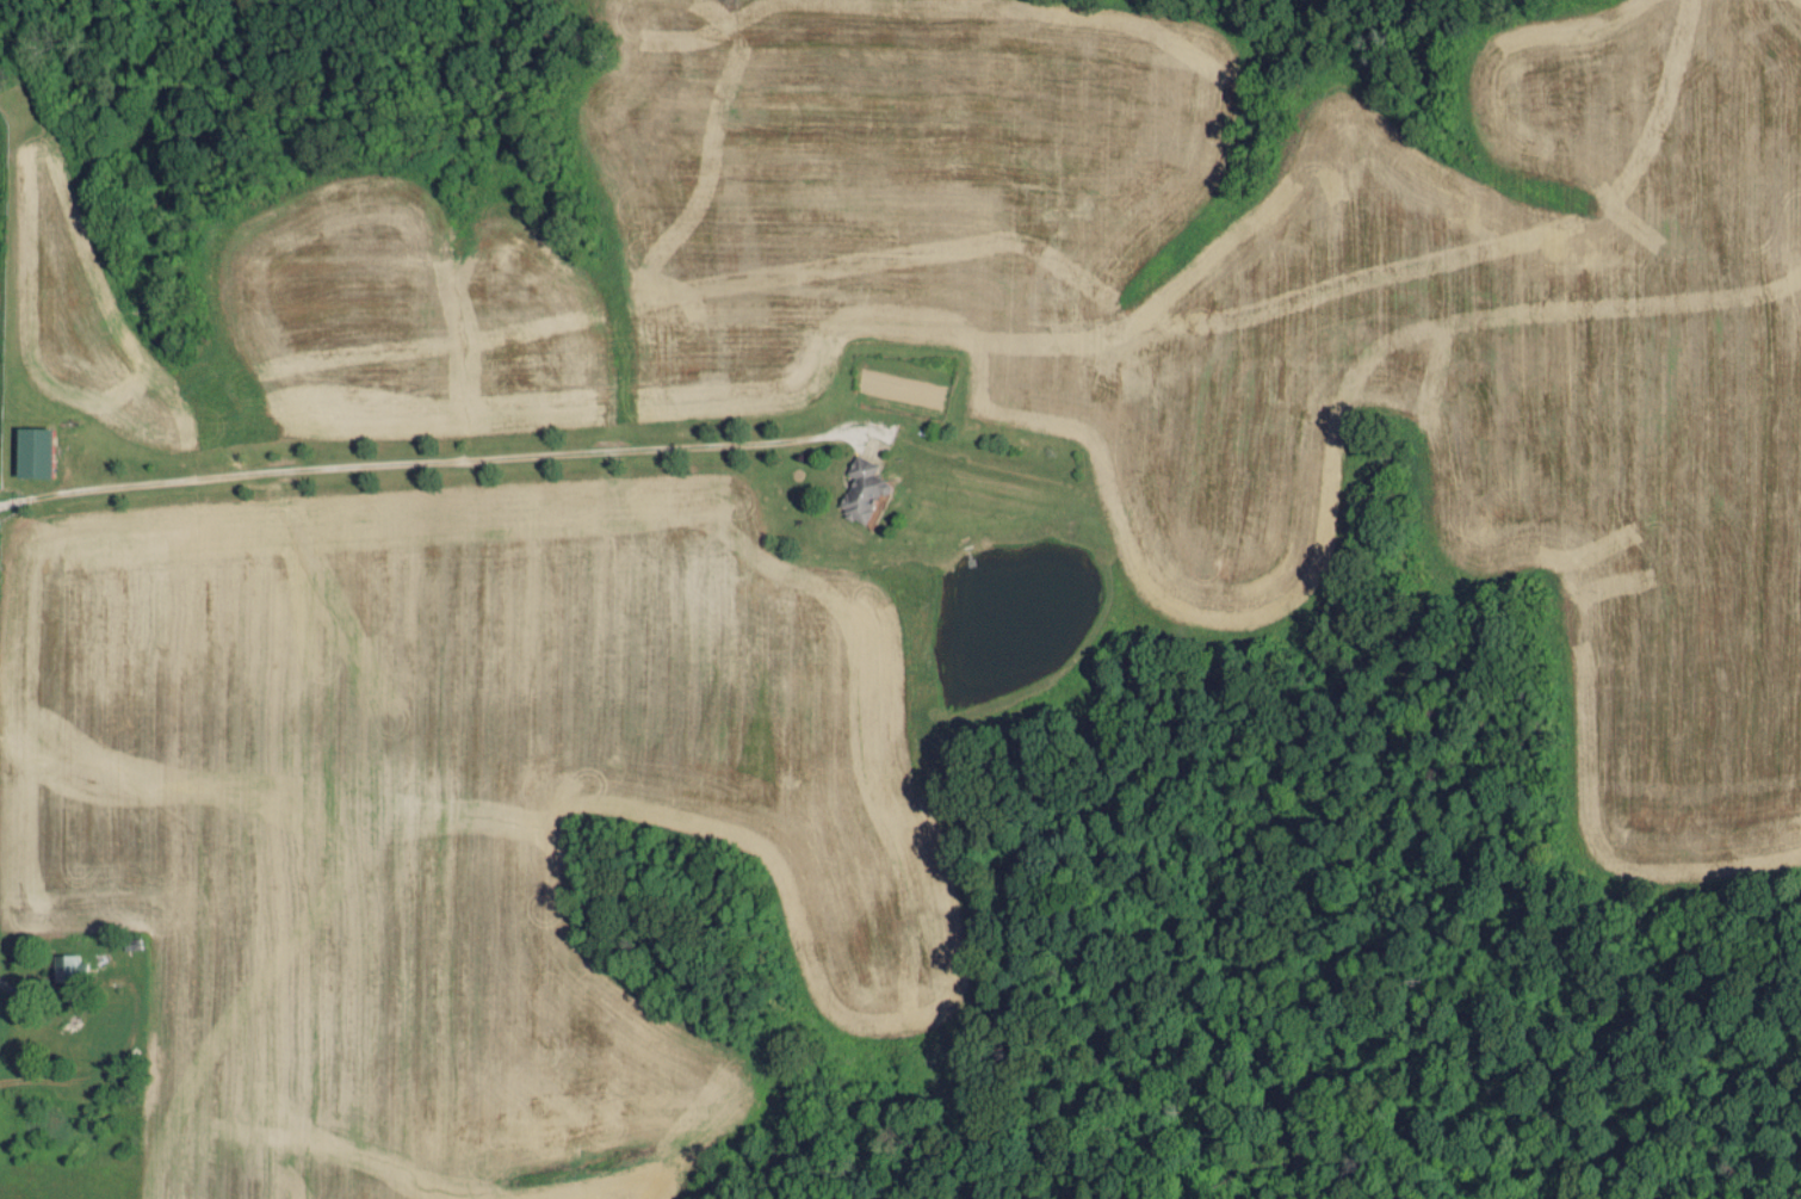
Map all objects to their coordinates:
building: (31, 452)
building: (861, 489)
building: (70, 965)

